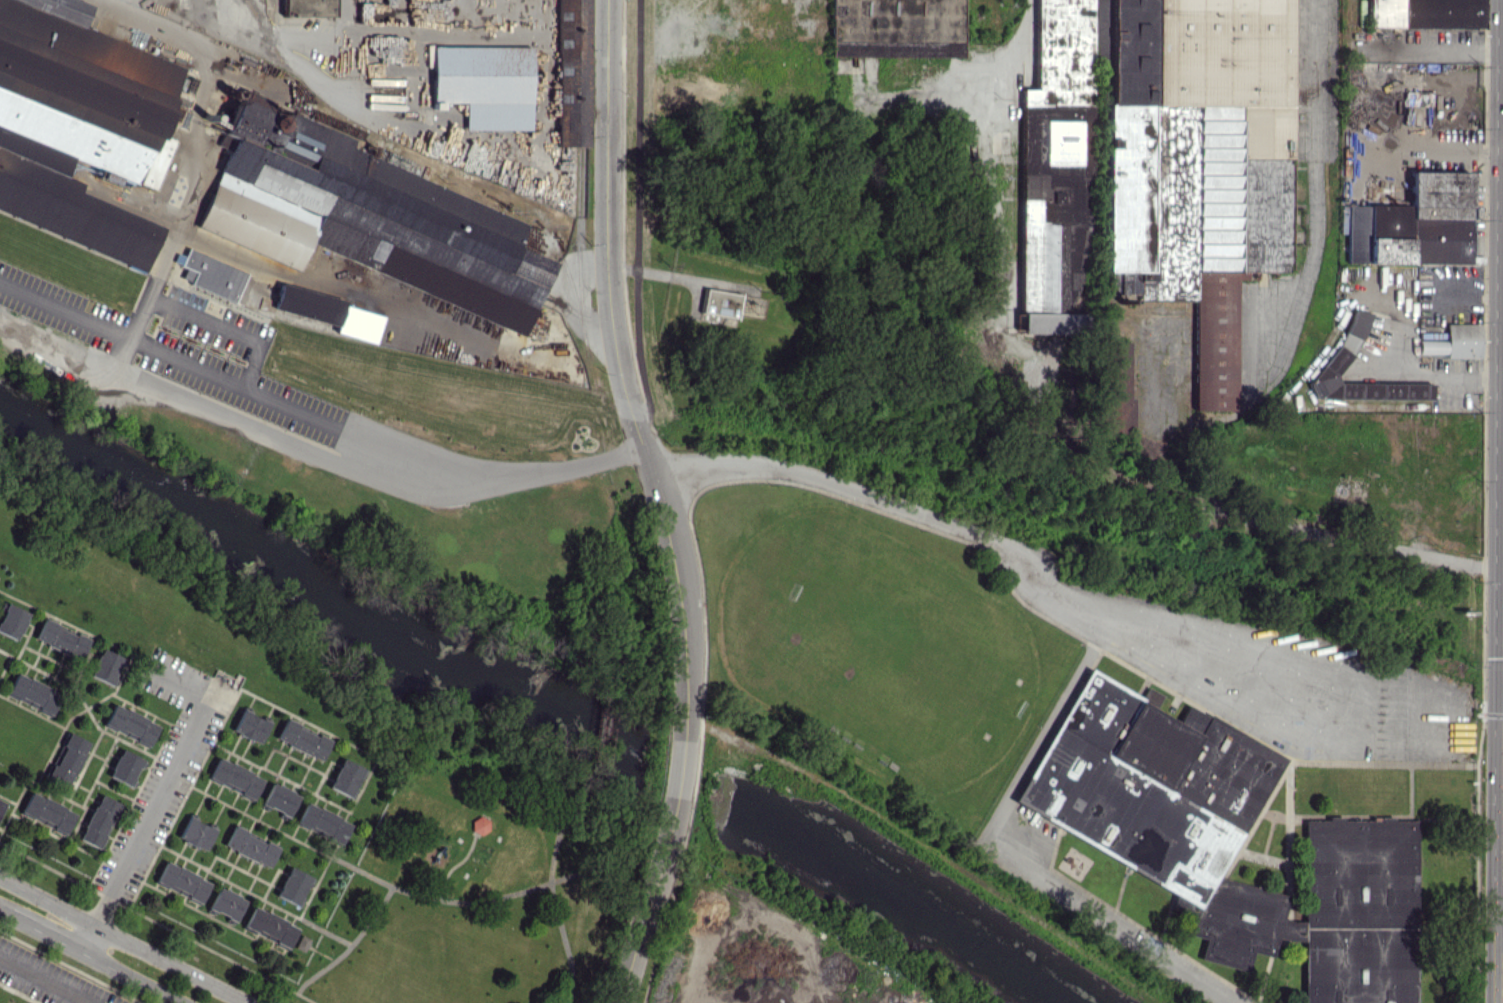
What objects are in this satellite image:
building: (307, 8)
building: (1425, 13)
road: (1024, 24)
building: (896, 27)
road: (263, 31)
road: (1442, 47)
building: (571, 73)
building: (482, 84)
building: (77, 124)
road: (1439, 150)
building: (1191, 161)
building: (1056, 167)
building: (364, 215)
building: (1414, 224)
building: (210, 275)
road: (673, 277)
building: (718, 302)
building: (327, 312)
road: (219, 328)
building: (1450, 341)
road: (168, 352)
road: (619, 354)
road: (1436, 372)
building: (1365, 373)
road: (163, 388)
building: (1112, 392)
road: (1263, 521)
river: (312, 597)
building: (11, 620)
building: (59, 639)
park: (876, 649)
building: (104, 666)
road: (1191, 682)
parking lot: (1325, 692)
building: (31, 693)
road: (184, 696)
building: (129, 724)
building: (248, 726)
railway: (603, 732)
building: (301, 739)
road: (1012, 744)
river: (655, 756)
building: (65, 759)
building: (123, 767)
river: (680, 768)
road: (680, 771)
building: (344, 777)
building: (233, 778)
river: (704, 779)
building: (278, 799)
building: (1, 804)
building: (46, 812)
road: (244, 818)
building: (97, 821)
building: (321, 822)
building: (478, 824)
road: (143, 831)
building: (194, 833)
building: (1230, 838)
building: (248, 846)
road: (1010, 858)
building: (181, 881)
building: (292, 886)
river: (894, 891)
park: (483, 893)
building: (225, 903)
road: (196, 919)
road: (644, 921)
building: (268, 927)
road: (123, 940)
building: (298, 942)
park: (755, 951)
road: (90, 956)
road: (42, 982)

